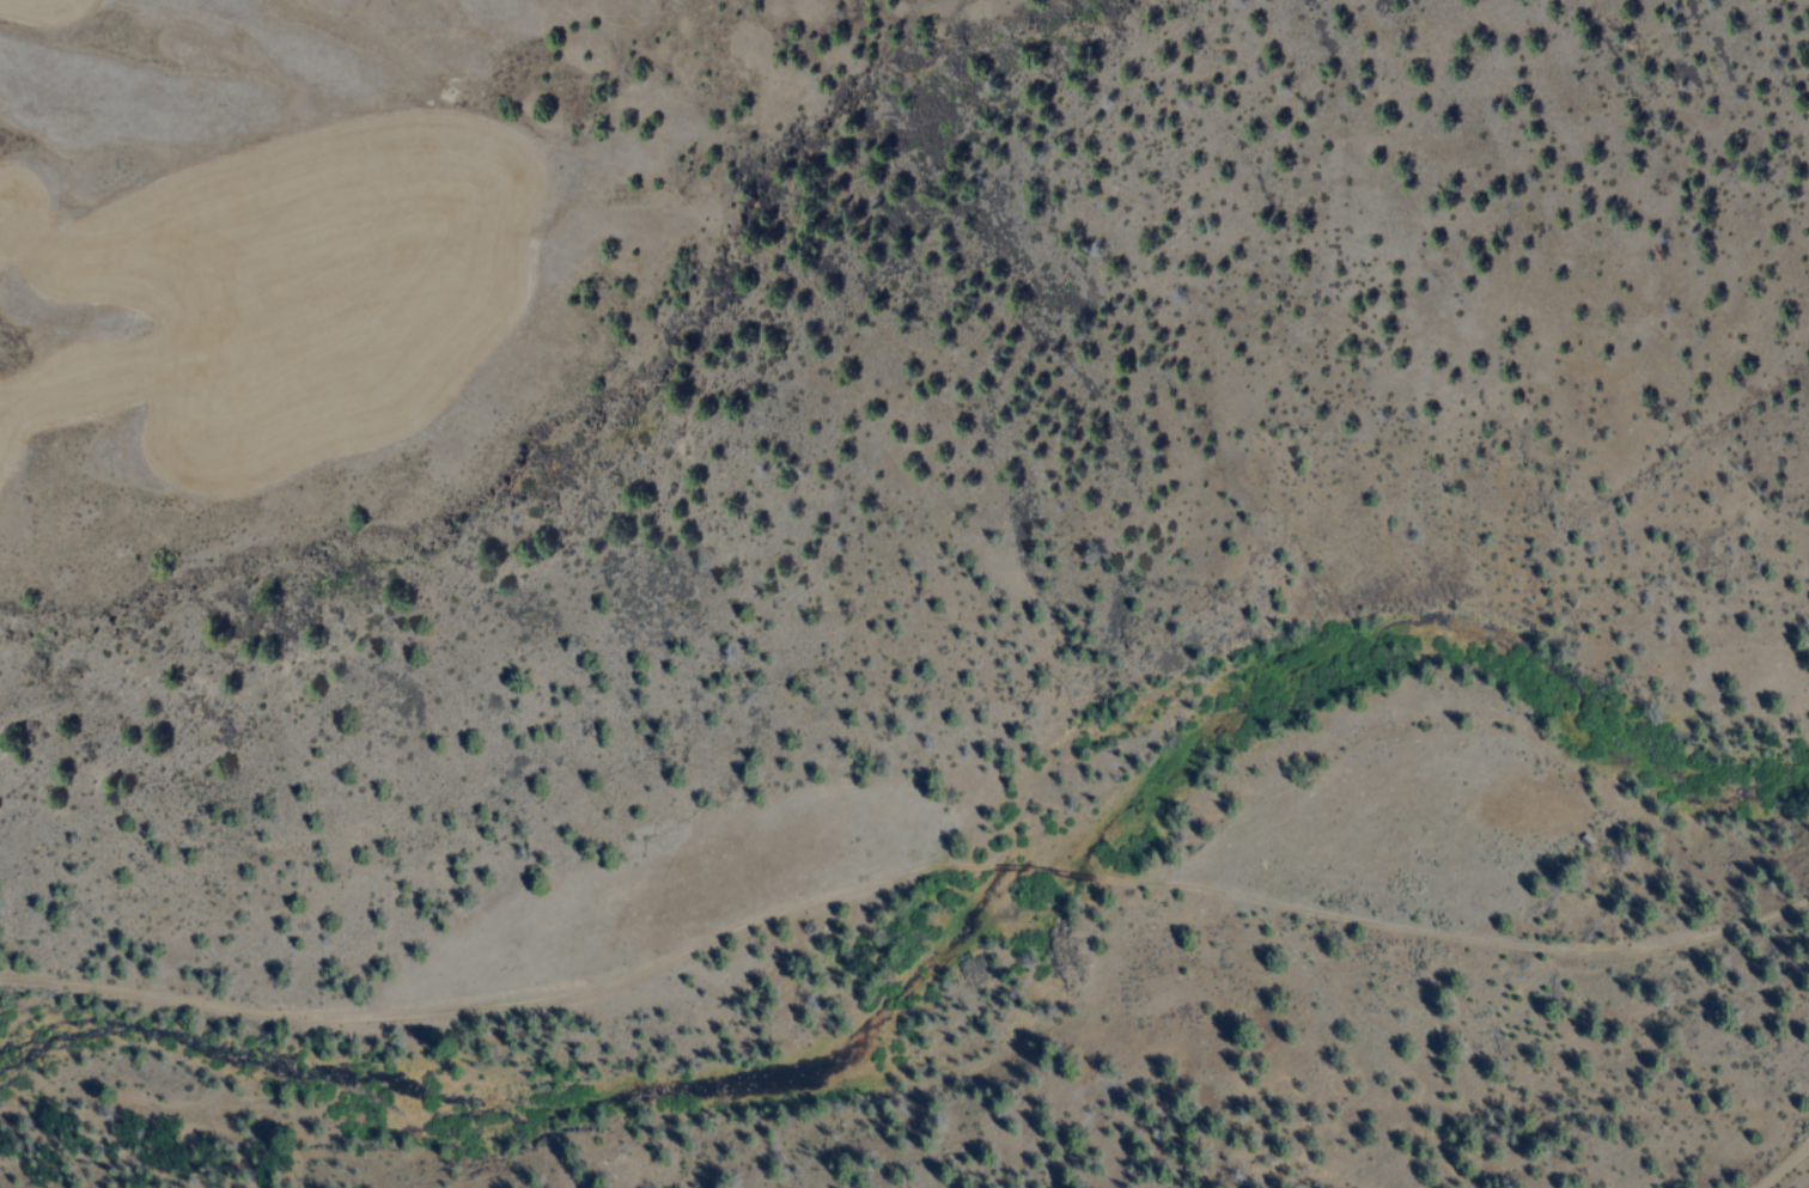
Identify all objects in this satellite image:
road: (1785, 1166)

